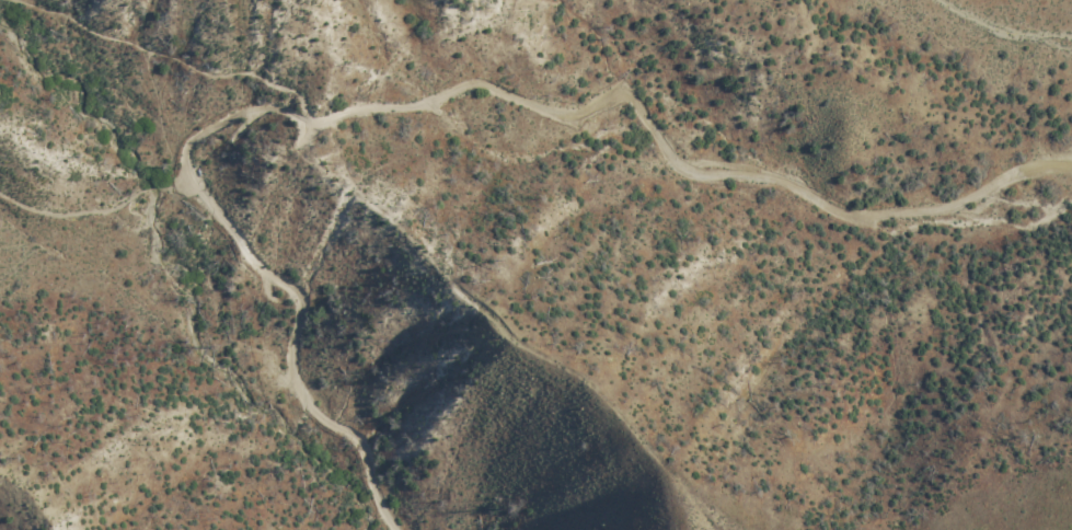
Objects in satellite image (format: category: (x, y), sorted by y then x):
road: (168, 60)
road: (427, 95)
road: (95, 215)

